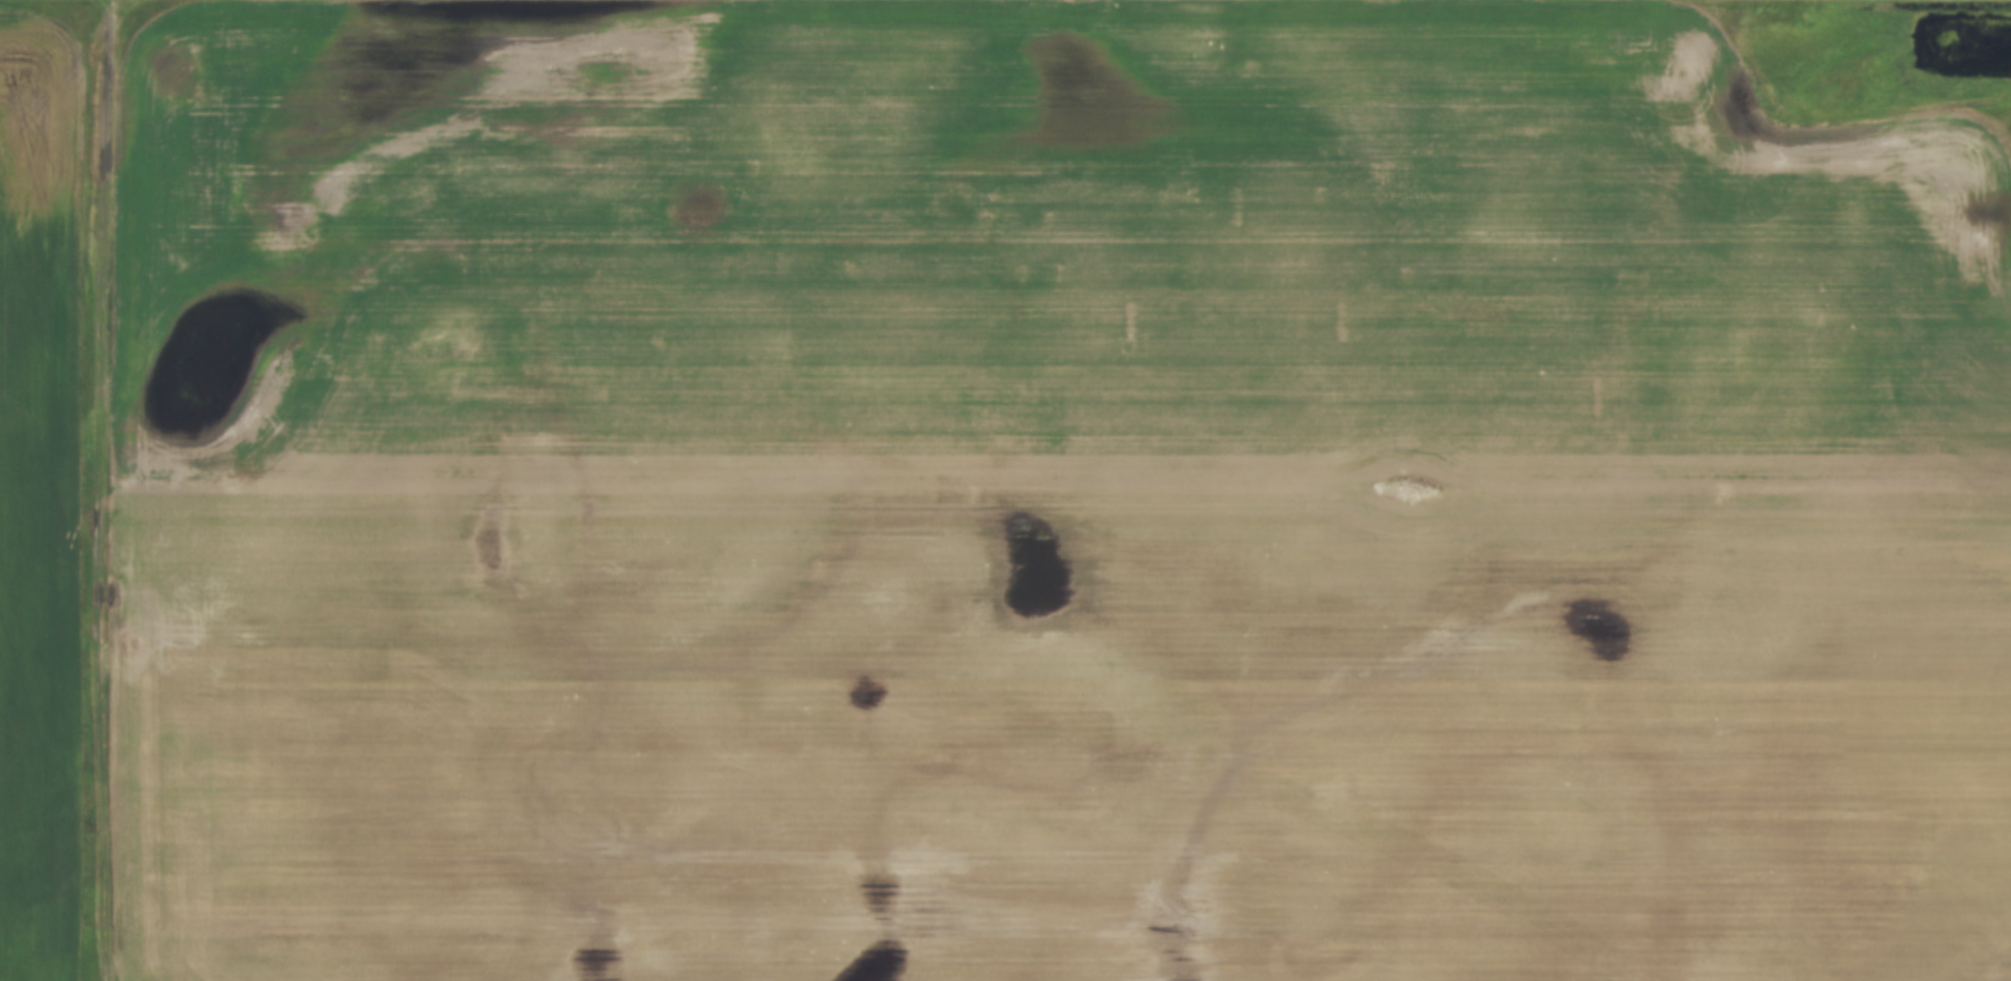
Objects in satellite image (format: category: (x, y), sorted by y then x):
road: (116, 490)

